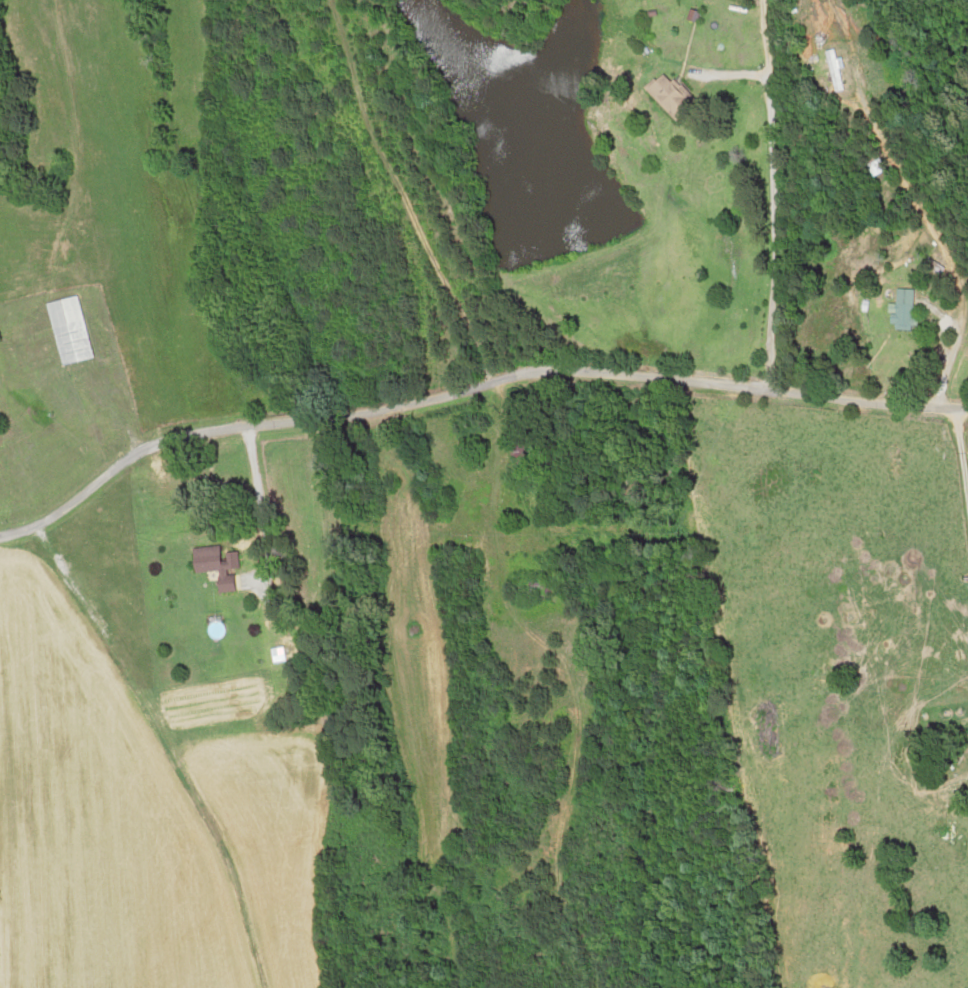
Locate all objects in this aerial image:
building: (832, 71)
building: (665, 94)
building: (873, 167)
building: (932, 262)
building: (901, 310)
building: (66, 330)
road: (478, 408)
building: (214, 563)
building: (276, 653)

